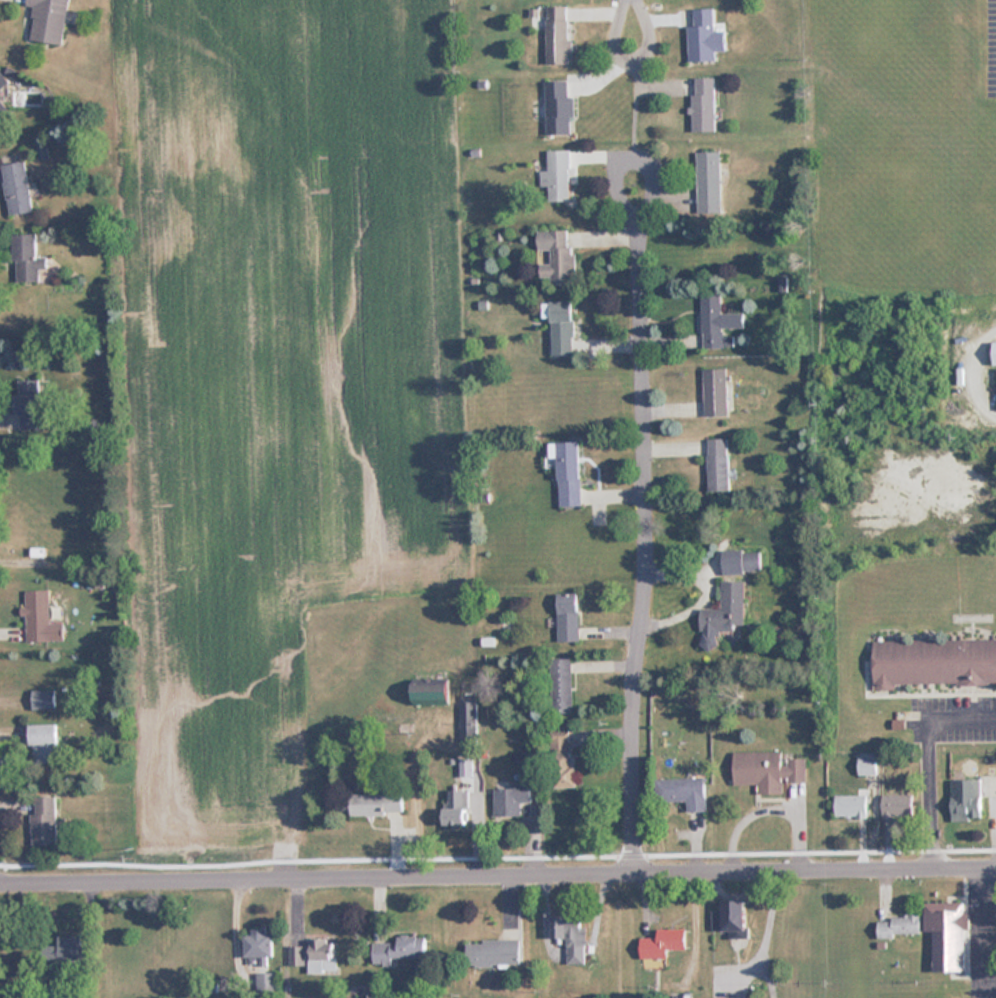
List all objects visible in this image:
building: (49, 21)
building: (558, 35)
building: (702, 37)
road: (634, 52)
building: (2, 82)
road: (635, 98)
building: (704, 105)
building: (559, 109)
building: (2, 114)
building: (558, 177)
building: (710, 183)
building: (17, 189)
building: (557, 256)
building: (27, 260)
building: (712, 322)
building: (562, 329)
building: (994, 354)
building: (716, 392)
building: (27, 397)
building: (718, 463)
road: (645, 465)
building: (567, 471)
building: (742, 561)
building: (727, 608)
building: (568, 616)
building: (40, 618)
building: (933, 661)
building: (563, 685)
building: (432, 693)
building: (44, 699)
building: (469, 721)
building: (44, 742)
building: (564, 757)
road: (926, 762)
building: (768, 770)
building: (684, 791)
building: (513, 798)
building: (966, 799)
building: (378, 803)
building: (851, 805)
building: (458, 806)
building: (898, 806)
building: (44, 821)
road: (498, 878)
building: (731, 918)
building: (899, 926)
building: (947, 934)
building: (572, 935)
building: (663, 942)
building: (259, 943)
building: (400, 949)
building: (64, 951)
building: (312, 951)
building: (493, 952)
building: (267, 983)
building: (739, 997)

